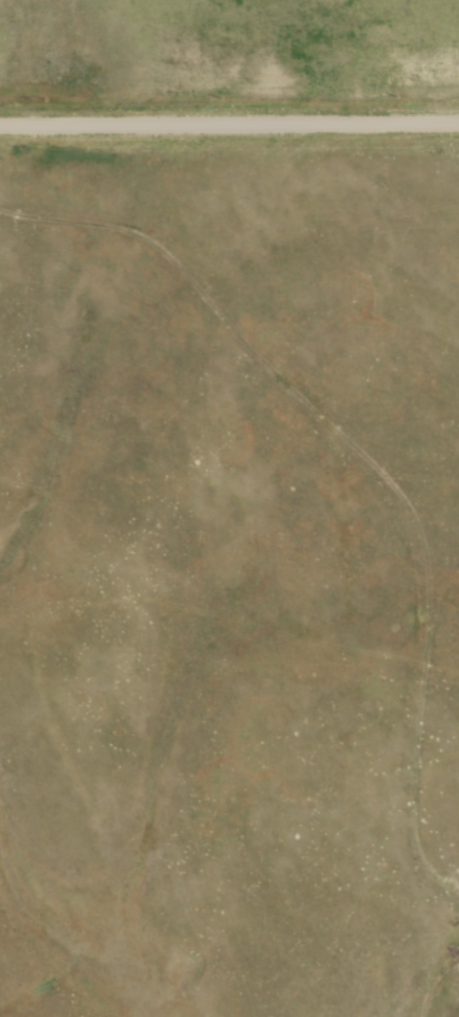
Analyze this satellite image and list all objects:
road: (229, 122)

